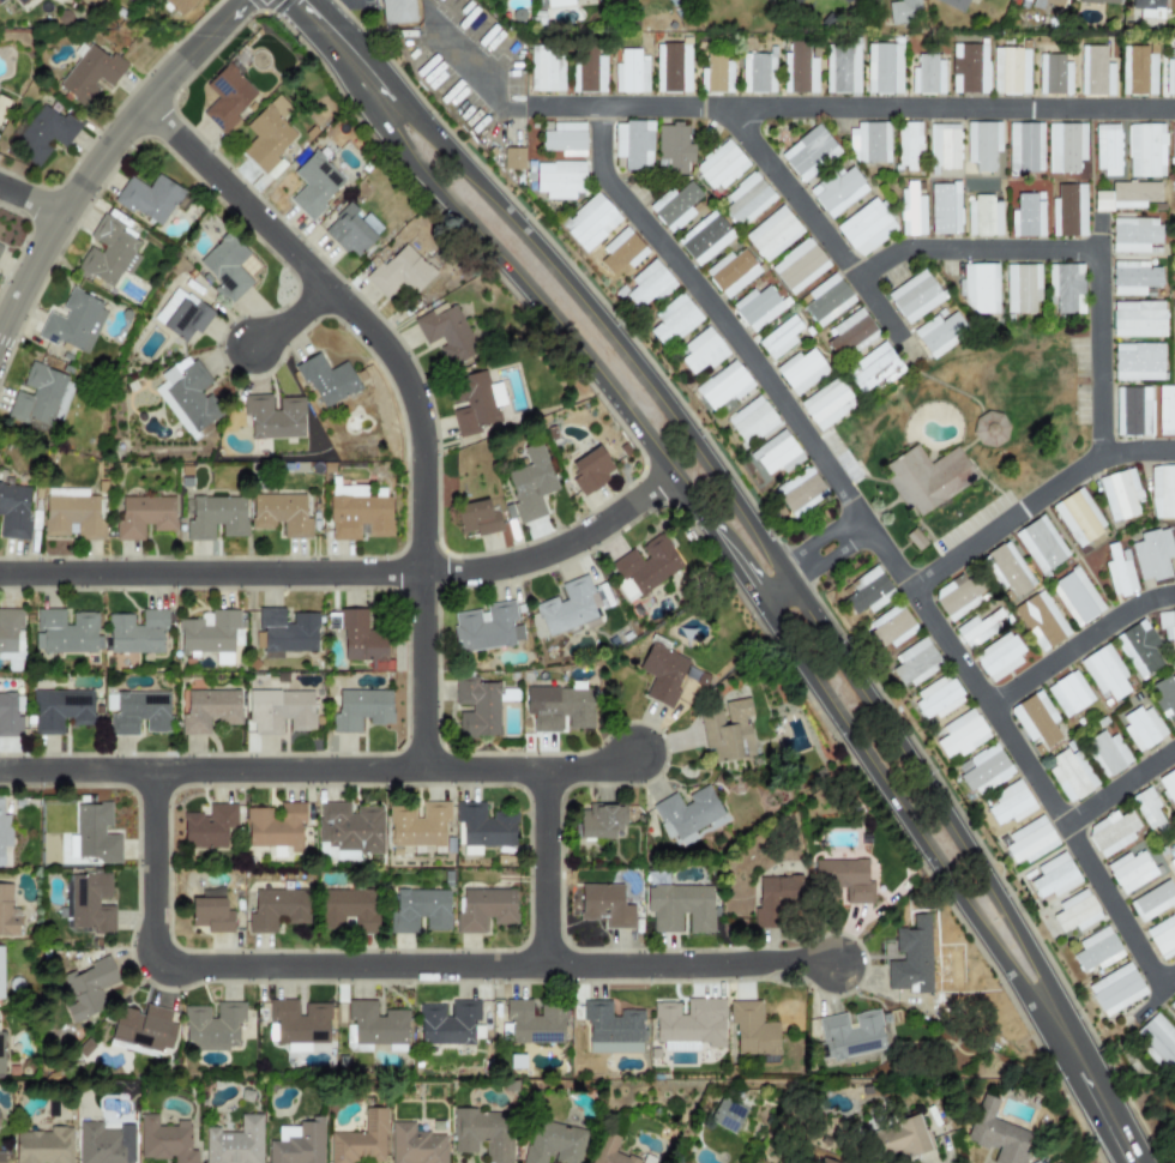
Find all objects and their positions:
building: (1, 0)
building: (845, 1)
building: (1099, 1)
building: (20, 2)
traffic signals: (242, 2)
traffic signals: (299, 2)
building: (558, 4)
building: (954, 4)
building: (1046, 4)
building: (179, 6)
building: (1149, 8)
road: (306, 10)
road: (326, 11)
building: (396, 11)
building: (904, 12)
road: (352, 60)
building: (842, 67)
building: (673, 68)
building: (882, 68)
building: (969, 68)
building: (544, 70)
building: (799, 70)
building: (587, 71)
building: (1010, 71)
building: (1137, 71)
building: (1095, 72)
building: (90, 73)
building: (629, 73)
building: (757, 73)
building: (1169, 73)
building: (716, 74)
building: (1053, 74)
building: (927, 76)
road: (471, 79)
building: (227, 97)
road: (852, 108)
building: (42, 134)
building: (267, 135)
building: (565, 139)
building: (1173, 140)
building: (869, 143)
building: (633, 144)
building: (982, 144)
building: (674, 146)
building: (909, 146)
building: (1025, 147)
building: (1065, 147)
building: (1107, 149)
building: (944, 150)
building: (1145, 150)
road: (104, 152)
building: (809, 153)
building: (512, 159)
building: (721, 165)
building: (559, 181)
building: (314, 185)
building: (837, 191)
building: (1128, 195)
building: (149, 198)
building: (747, 199)
road: (31, 200)
building: (1174, 204)
building: (674, 206)
building: (945, 209)
building: (911, 210)
building: (1068, 211)
building: (1028, 216)
building: (982, 217)
building: (590, 222)
building: (866, 228)
building: (351, 230)
building: (773, 234)
building: (1134, 234)
road: (1099, 235)
building: (704, 239)
building: (0, 246)
building: (1174, 247)
road: (970, 251)
building: (107, 252)
building: (621, 252)
building: (248, 266)
building: (800, 266)
building: (224, 269)
building: (399, 272)
building: (731, 272)
building: (1134, 277)
building: (649, 284)
building: (1022, 288)
building: (1065, 288)
building: (980, 289)
building: (915, 296)
building: (826, 300)
road: (535, 305)
building: (758, 307)
road: (878, 309)
building: (181, 315)
road: (289, 319)
building: (1138, 319)
building: (673, 320)
building: (73, 323)
road: (603, 323)
building: (849, 332)
building: (446, 333)
building: (939, 333)
building: (779, 337)
road: (905, 349)
building: (701, 351)
building: (1138, 362)
building: (1174, 362)
building: (872, 368)
building: (801, 370)
building: (326, 379)
road: (406, 385)
building: (723, 385)
building: (36, 396)
building: (187, 396)
building: (475, 403)
building: (826, 404)
park: (996, 405)
building: (1133, 411)
building: (1165, 411)
building: (273, 417)
building: (752, 420)
building: (989, 429)
road: (977, 430)
building: (776, 454)
building: (590, 470)
building: (927, 478)
building: (530, 484)
building: (800, 492)
building: (1162, 492)
building: (1120, 494)
road: (1035, 500)
building: (14, 511)
building: (73, 513)
building: (357, 513)
building: (281, 514)
building: (144, 517)
building: (213, 517)
building: (1078, 517)
building: (476, 518)
road: (819, 541)
road: (876, 543)
building: (1041, 546)
road: (722, 553)
building: (1152, 554)
road: (830, 556)
building: (644, 568)
building: (1006, 570)
building: (1119, 571)
road: (347, 574)
road: (770, 586)
building: (868, 591)
building: (957, 596)
building: (1075, 597)
building: (567, 607)
building: (1041, 621)
building: (487, 627)
building: (1167, 627)
building: (890, 628)
building: (976, 629)
building: (65, 632)
building: (287, 632)
building: (137, 633)
building: (210, 633)
building: (361, 639)
road: (1078, 645)
building: (1140, 650)
building: (998, 657)
building: (915, 663)
building: (1104, 673)
building: (662, 674)
building: (1069, 695)
building: (1164, 697)
building: (938, 698)
building: (360, 709)
building: (477, 709)
building: (559, 709)
building: (209, 710)
building: (60, 711)
building: (279, 711)
building: (135, 712)
building: (8, 716)
building: (1035, 719)
building: (1143, 728)
building: (962, 734)
building: (1107, 753)
street lamp: (668, 766)
road: (318, 770)
building: (983, 770)
building: (1069, 773)
road: (927, 784)
building: (1169, 785)
road: (1119, 788)
building: (1010, 803)
road: (894, 806)
building: (1147, 809)
building: (688, 815)
building: (599, 820)
building: (209, 826)
building: (275, 826)
building: (349, 826)
building: (417, 826)
building: (482, 828)
building: (4, 833)
building: (1111, 833)
building: (94, 834)
building: (1029, 840)
building: (1173, 860)
road: (544, 868)
building: (1131, 870)
building: (1054, 876)
building: (843, 878)
building: (775, 900)
building: (1152, 902)
building: (86, 903)
building: (605, 905)
building: (680, 908)
building: (348, 909)
building: (484, 909)
building: (276, 910)
building: (210, 911)
building: (420, 911)
building: (1075, 911)
building: (6, 912)
building: (1162, 936)
building: (1096, 951)
building: (910, 958)
road: (394, 966)
building: (0, 975)
road: (1170, 982)
building: (88, 989)
building: (1116, 990)
street lamp: (855, 993)
road: (1152, 1002)
building: (1171, 1005)
building: (299, 1022)
building: (447, 1023)
building: (534, 1023)
building: (688, 1024)
building: (376, 1025)
building: (212, 1026)
building: (144, 1028)
building: (752, 1029)
building: (610, 1030)
building: (850, 1035)
building: (1157, 1043)
building: (1, 1053)
road: (1087, 1084)
building: (727, 1115)
building: (996, 1133)
building: (482, 1134)
building: (360, 1139)
building: (898, 1139)
building: (164, 1140)
building: (234, 1143)
building: (297, 1143)
building: (554, 1144)
building: (101, 1145)
building: (415, 1145)
building: (43, 1146)
building: (607, 1151)
building: (1, 1157)
building: (824, 1161)

